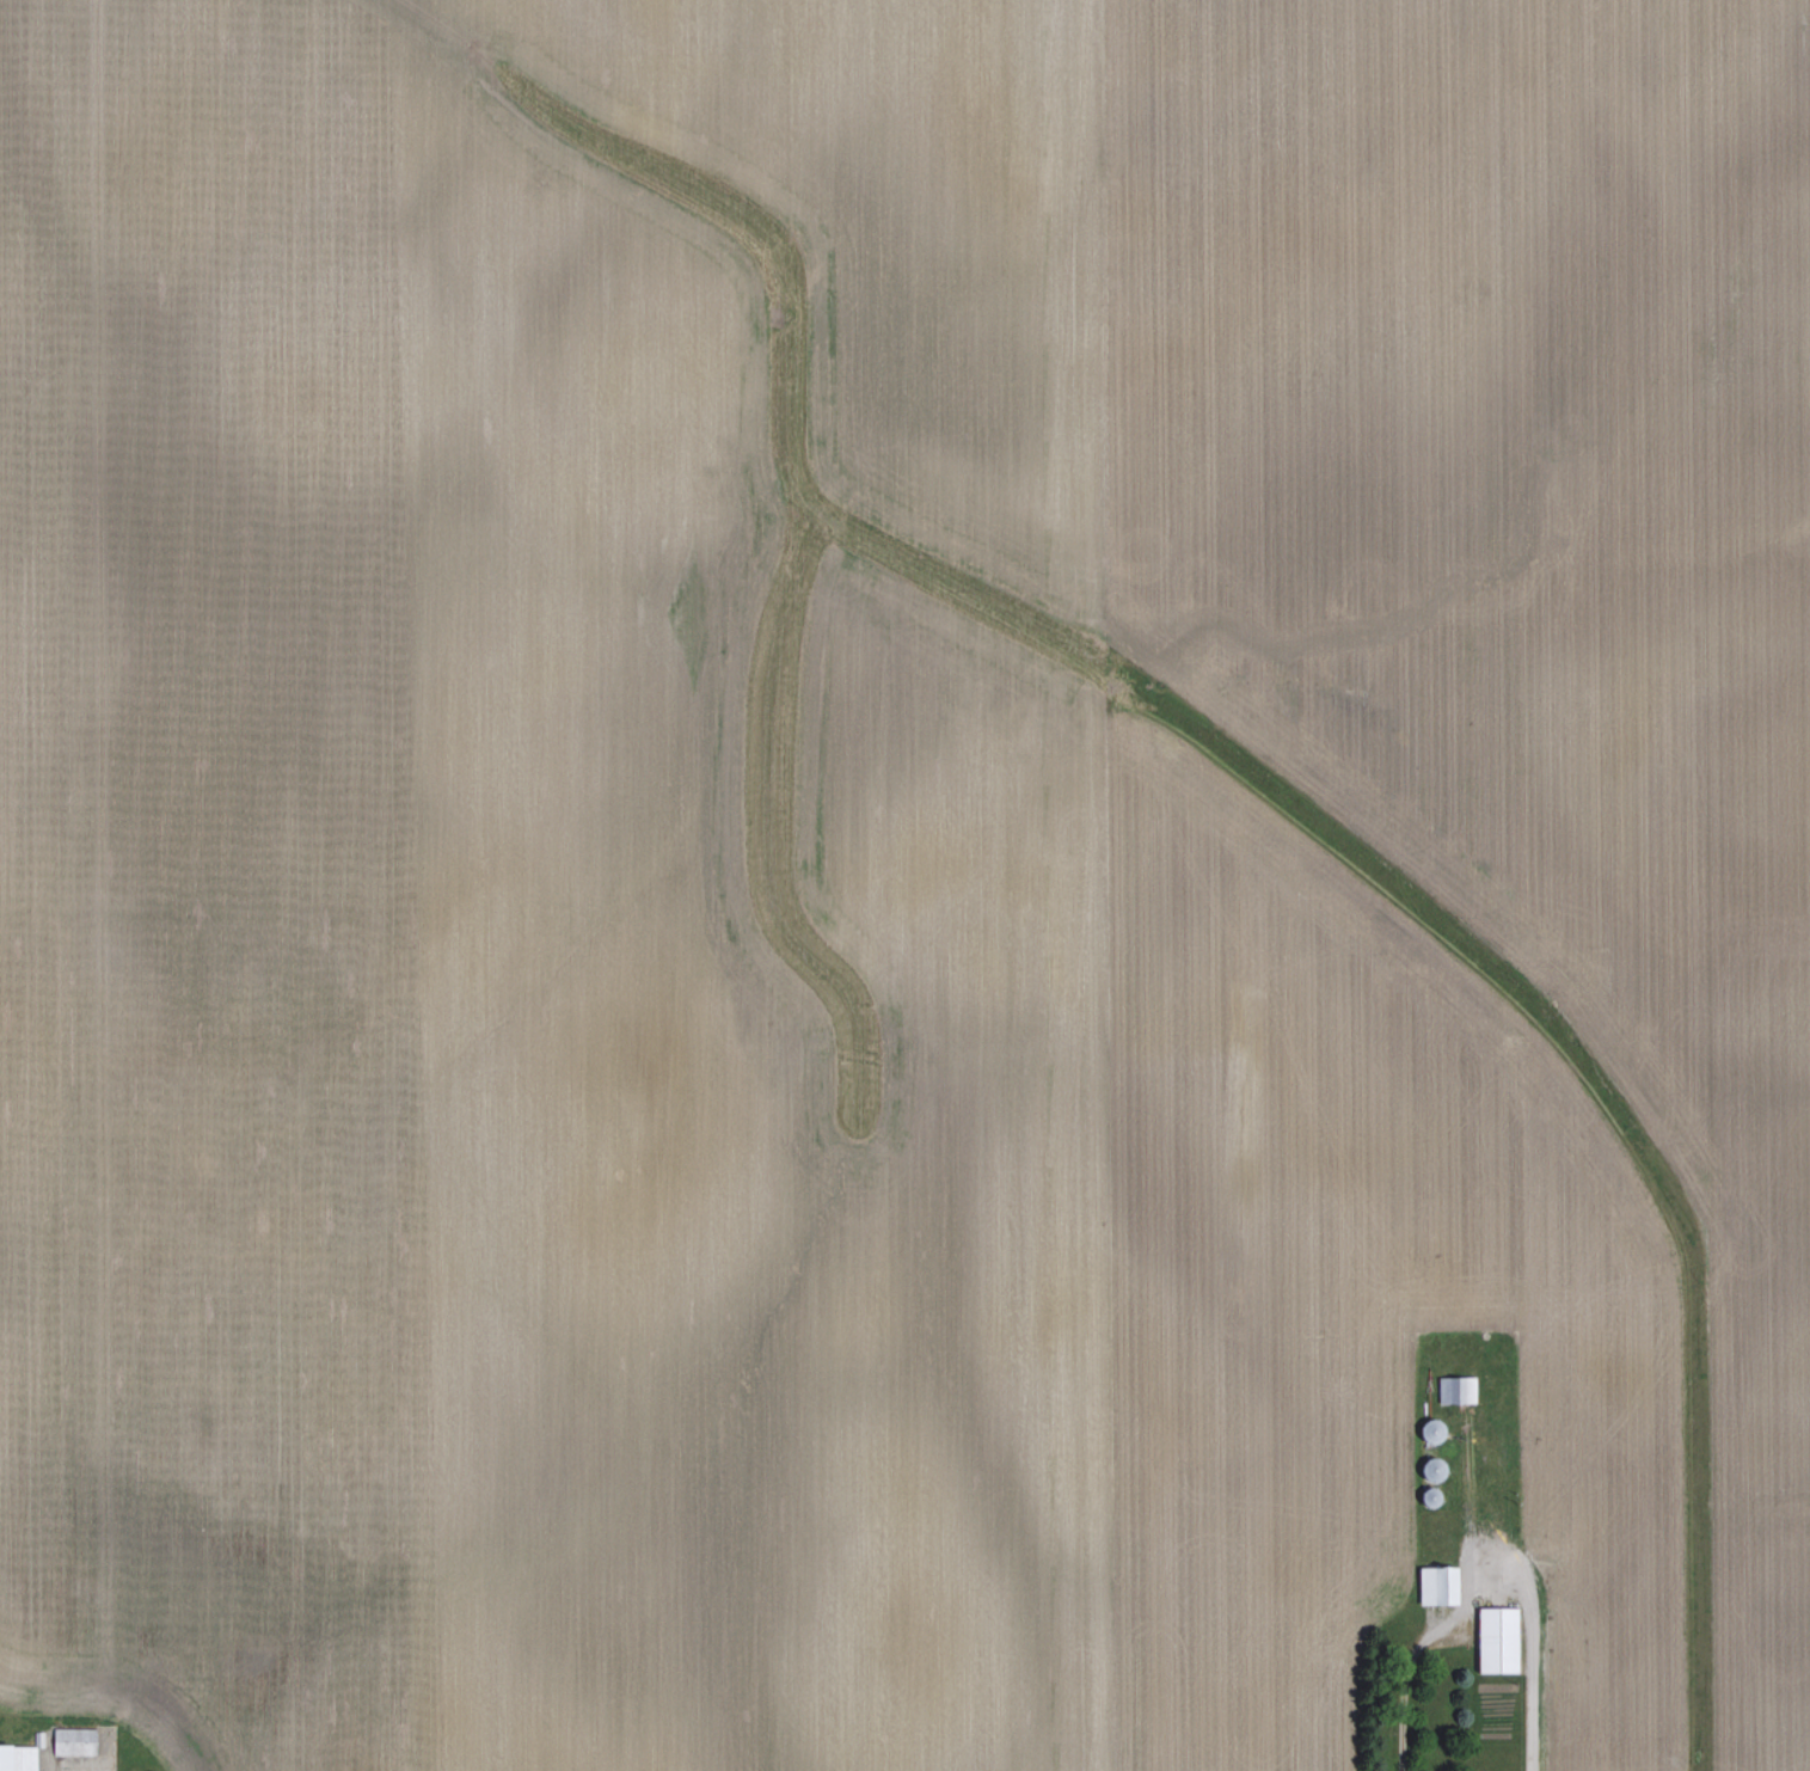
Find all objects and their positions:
building: (1454, 1389)
building: (1435, 1585)
road: (1480, 1587)
building: (1495, 1638)
building: (70, 1740)
building: (16, 1757)

